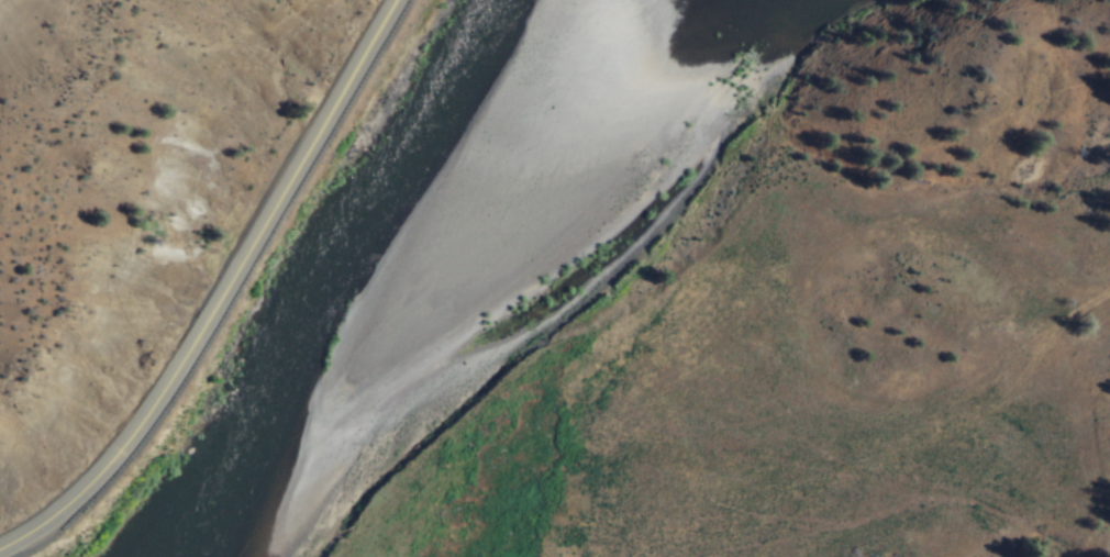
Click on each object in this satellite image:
river: (351, 279)
road: (232, 297)

